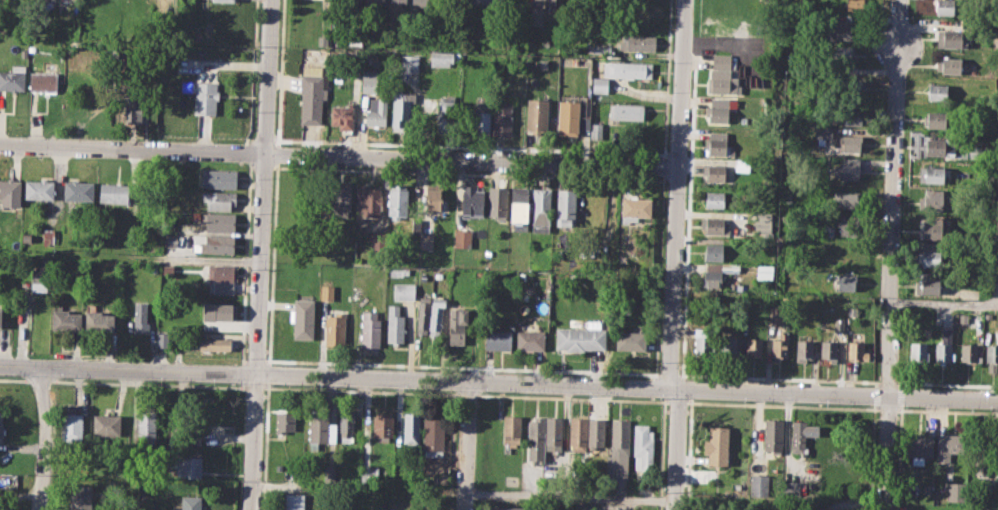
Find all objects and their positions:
building: (162, 0)
building: (223, 0)
building: (355, 0)
building: (420, 1)
building: (376, 2)
building: (398, 3)
building: (487, 3)
building: (855, 6)
building: (945, 8)
building: (537, 12)
building: (643, 13)
building: (842, 31)
building: (952, 38)
building: (637, 43)
building: (841, 53)
building: (441, 59)
building: (409, 62)
building: (950, 66)
building: (632, 69)
building: (723, 75)
building: (13, 78)
building: (371, 81)
building: (42, 82)
building: (600, 88)
building: (312, 92)
building: (938, 92)
building: (205, 97)
building: (133, 108)
building: (718, 110)
building: (625, 111)
building: (377, 112)
building: (403, 114)
building: (447, 115)
building: (342, 116)
building: (537, 116)
building: (852, 116)
building: (502, 117)
building: (481, 118)
building: (568, 118)
building: (938, 120)
building: (596, 131)
building: (823, 132)
building: (716, 143)
building: (849, 143)
building: (937, 148)
road: (338, 155)
building: (742, 165)
building: (847, 169)
building: (713, 172)
building: (932, 174)
building: (218, 178)
road: (264, 187)
building: (39, 189)
building: (78, 190)
building: (114, 191)
building: (10, 192)
building: (342, 197)
building: (435, 198)
building: (218, 199)
building: (399, 199)
building: (847, 199)
building: (714, 200)
building: (368, 201)
building: (934, 201)
building: (472, 202)
building: (497, 202)
building: (518, 204)
building: (565, 207)
building: (634, 208)
building: (540, 210)
building: (219, 221)
building: (714, 226)
building: (849, 226)
building: (934, 229)
building: (26, 236)
building: (48, 237)
building: (462, 238)
building: (170, 240)
building: (426, 240)
building: (216, 243)
building: (936, 251)
building: (713, 252)
road: (891, 254)
road: (675, 256)
building: (764, 271)
building: (222, 272)
building: (717, 272)
building: (40, 275)
building: (843, 283)
building: (926, 283)
building: (404, 291)
building: (326, 292)
road: (944, 303)
building: (219, 311)
building: (436, 315)
building: (0, 317)
building: (140, 317)
building: (422, 317)
building: (963, 317)
building: (302, 318)
building: (65, 319)
building: (98, 321)
building: (458, 322)
building: (394, 324)
building: (370, 329)
building: (334, 330)
building: (162, 338)
building: (580, 338)
building: (497, 339)
building: (529, 340)
building: (629, 340)
building: (208, 343)
building: (780, 344)
building: (704, 345)
building: (805, 346)
building: (945, 346)
building: (729, 347)
building: (754, 347)
building: (829, 349)
building: (857, 351)
building: (918, 351)
building: (968, 352)
building: (991, 356)
road: (127, 370)
road: (626, 389)
building: (284, 422)
building: (105, 425)
building: (346, 425)
building: (382, 425)
building: (72, 426)
building: (146, 426)
building: (411, 427)
building: (1, 429)
building: (511, 429)
building: (191, 430)
building: (320, 430)
building: (433, 432)
building: (553, 433)
building: (577, 433)
building: (597, 434)
building: (773, 434)
building: (800, 435)
building: (621, 437)
building: (535, 438)
road: (44, 439)
road: (253, 442)
building: (642, 444)
building: (716, 445)
road: (465, 446)
building: (919, 446)
building: (945, 448)
building: (981, 465)
building: (188, 467)
building: (329, 474)
building: (759, 484)
building: (926, 488)
building: (791, 489)
building: (956, 495)
road: (569, 496)
building: (80, 497)
building: (294, 501)
building: (190, 503)
building: (584, 506)
building: (0, 508)
building: (510, 508)
building: (817, 509)
building: (830, 509)

